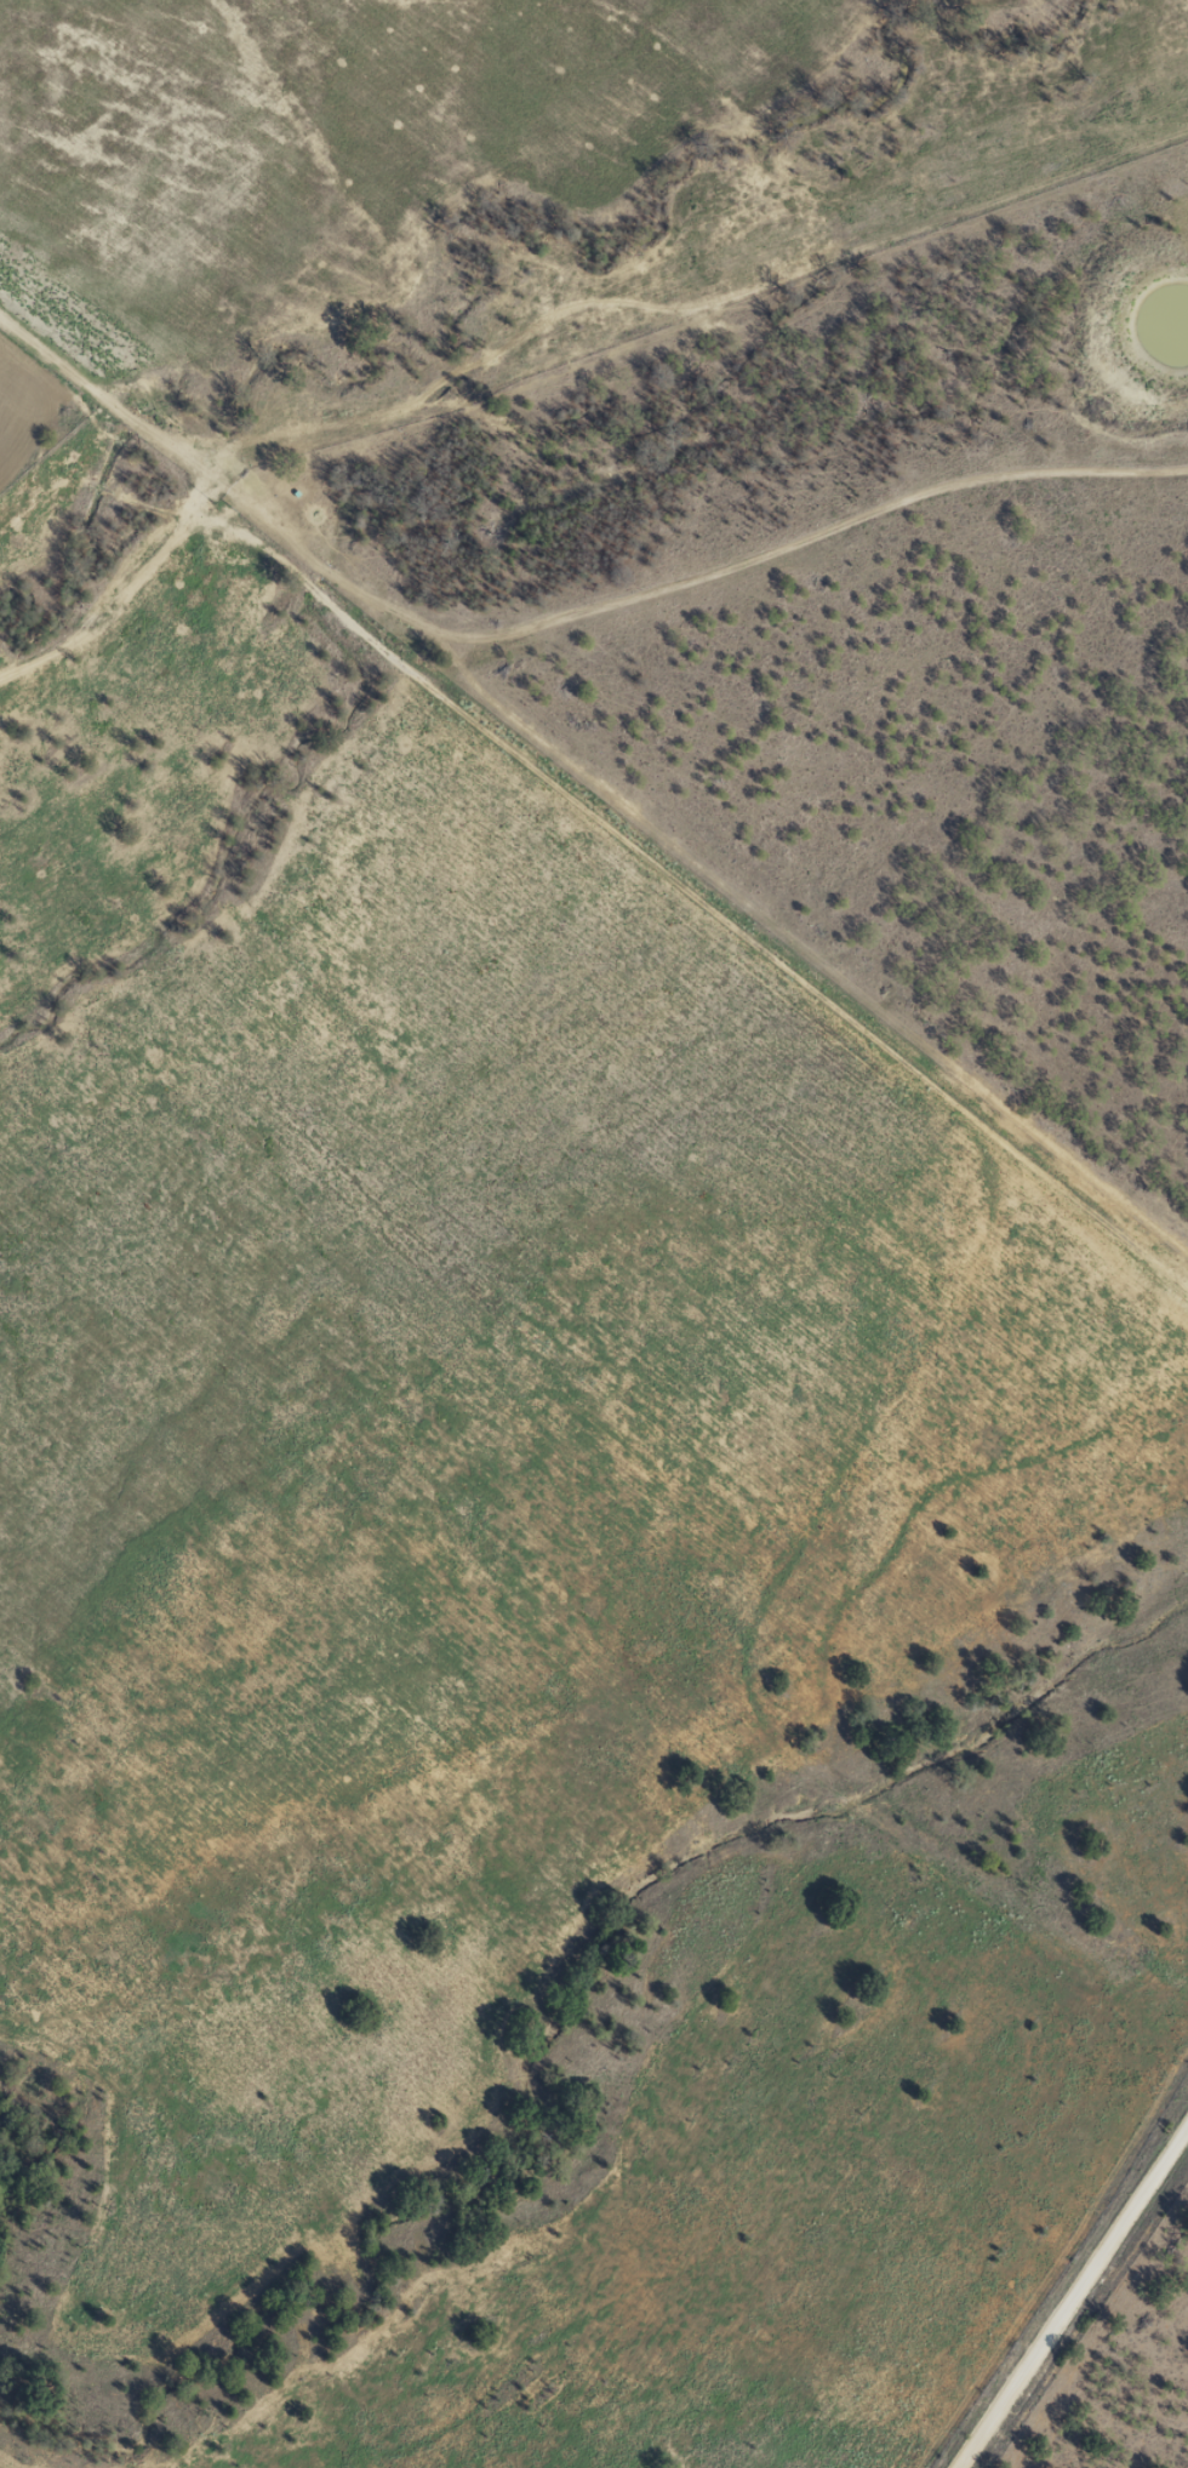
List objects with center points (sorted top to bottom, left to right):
road: (1074, 2301)

